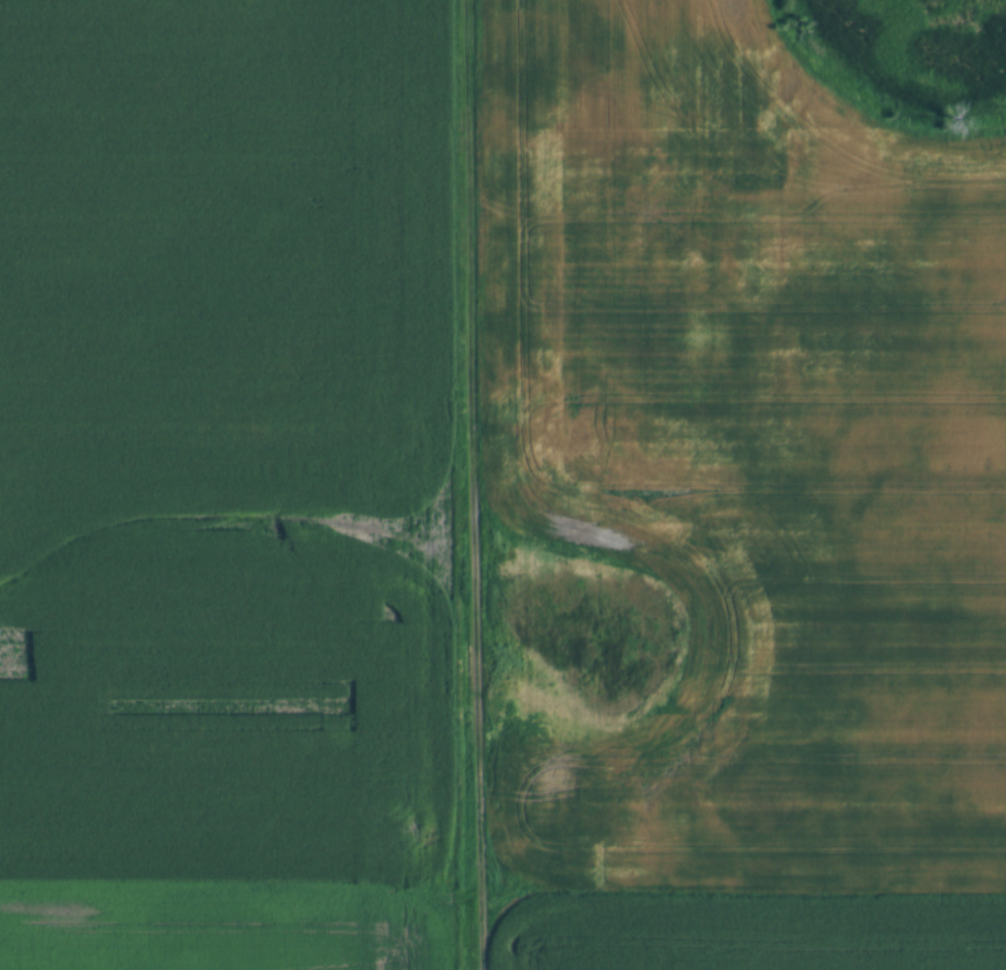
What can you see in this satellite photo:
road: (476, 485)
road: (503, 885)

